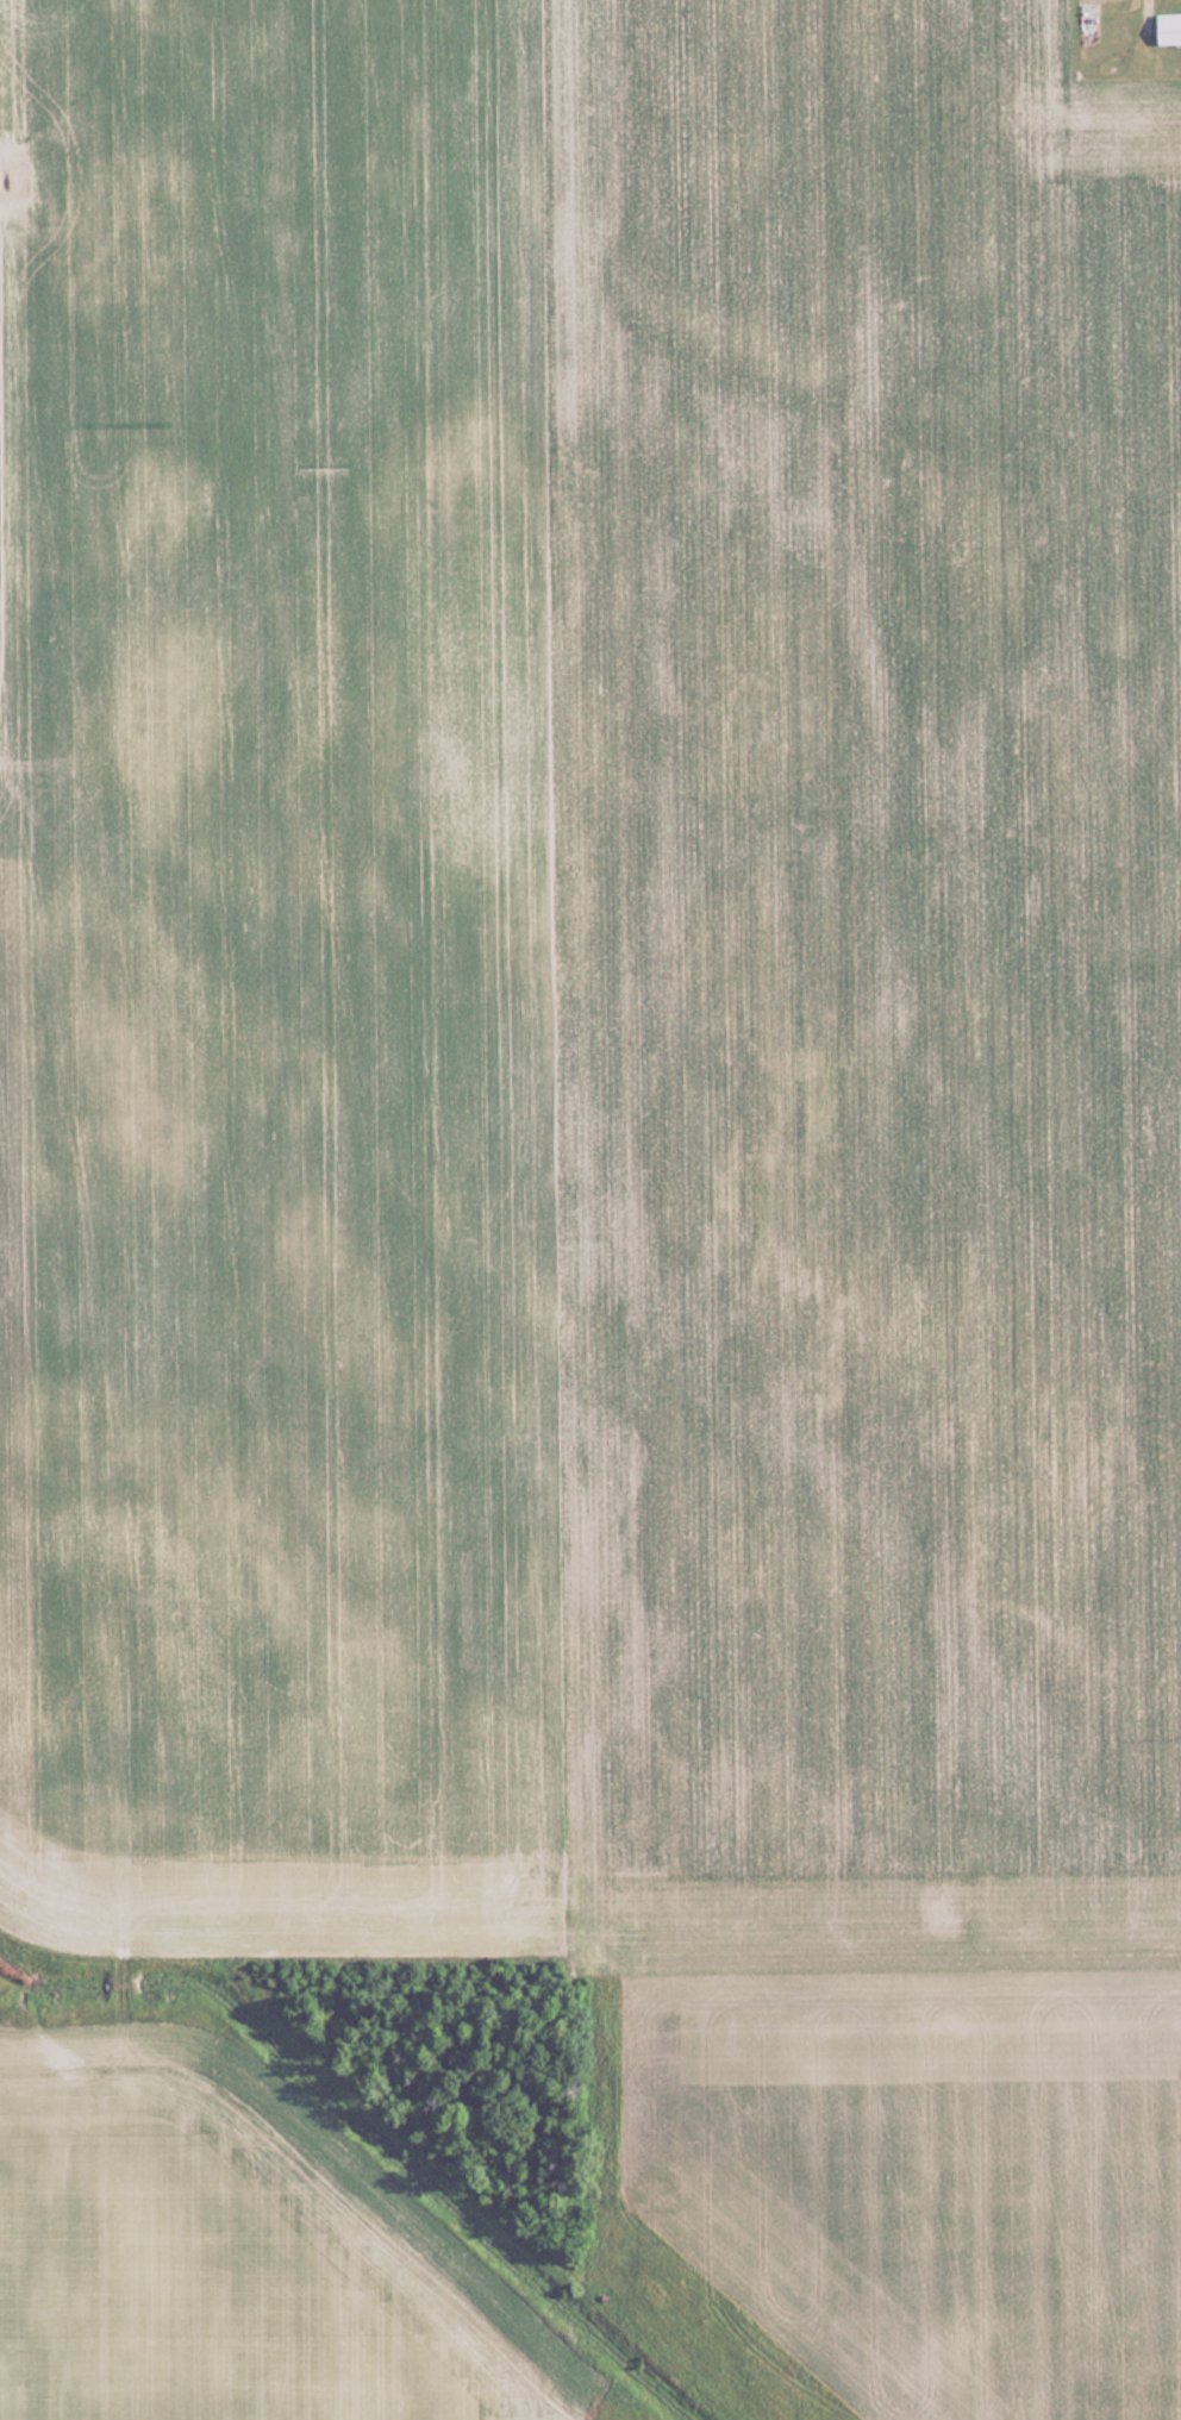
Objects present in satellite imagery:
building: (1168, 30)

